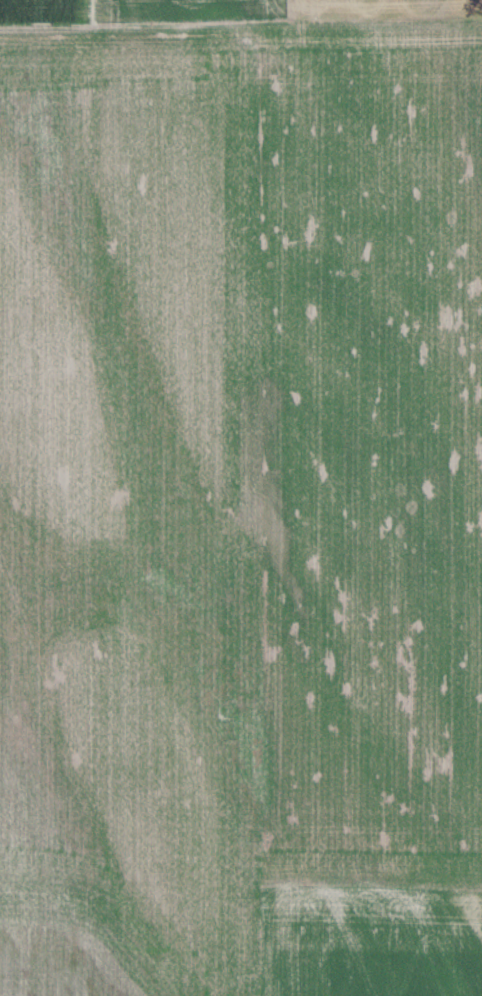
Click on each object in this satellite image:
crop: (242, 14)
crop: (141, 463)
crop: (382, 467)
crop: (380, 947)
crop: (140, 948)

